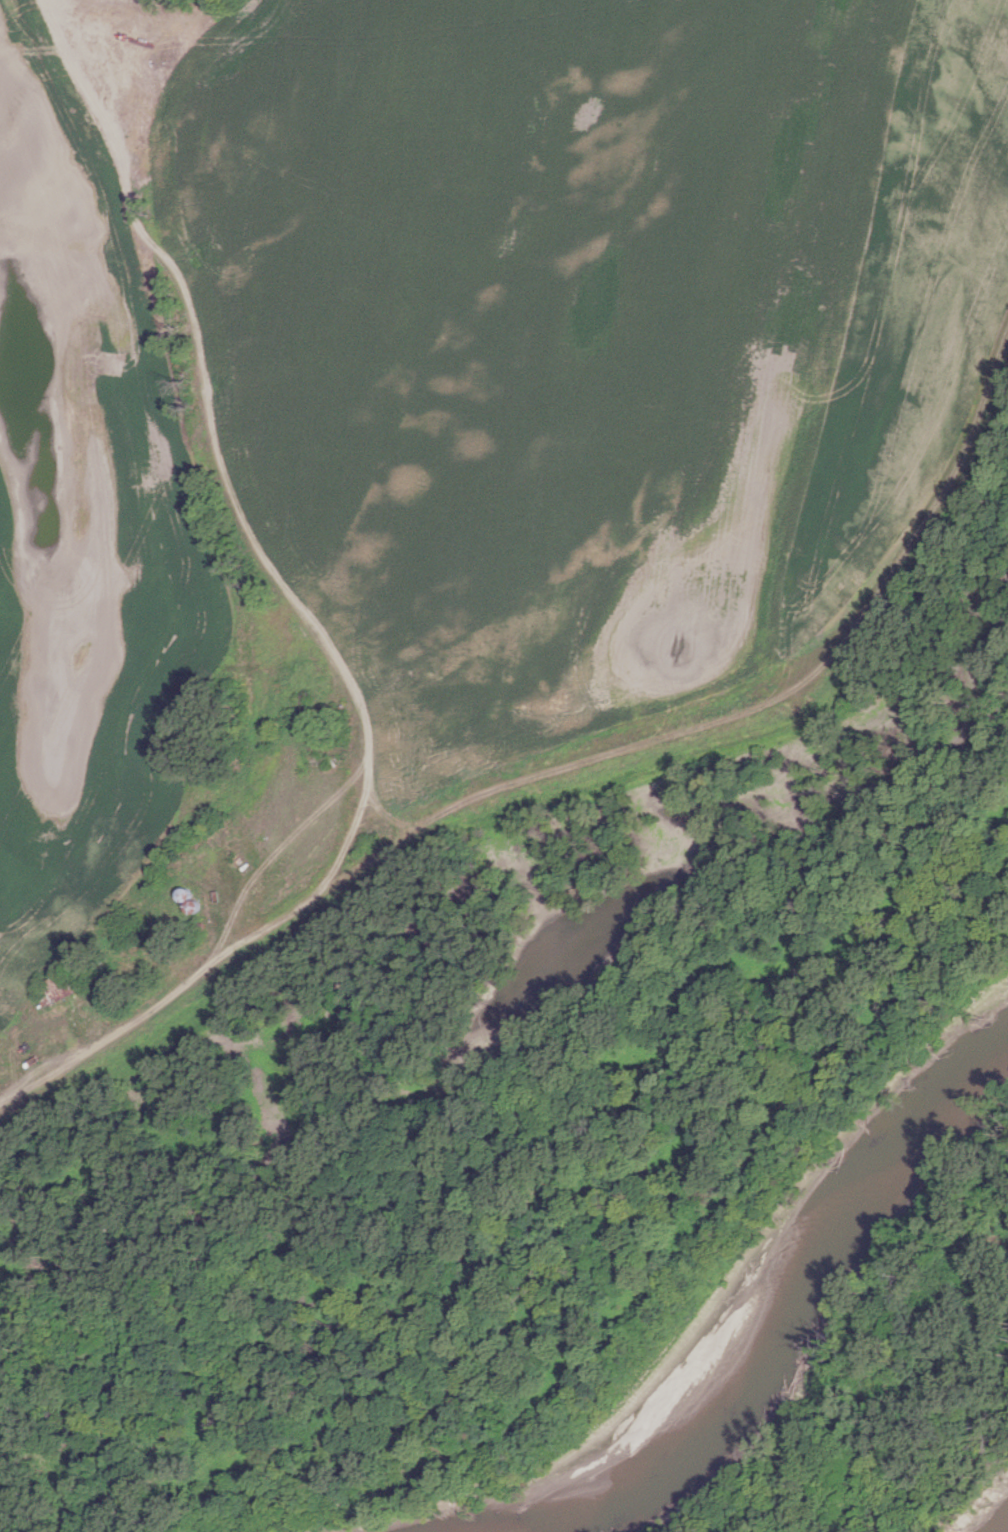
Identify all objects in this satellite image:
crop: (438, 408)
road: (216, 453)
road: (745, 713)
road: (160, 1002)

